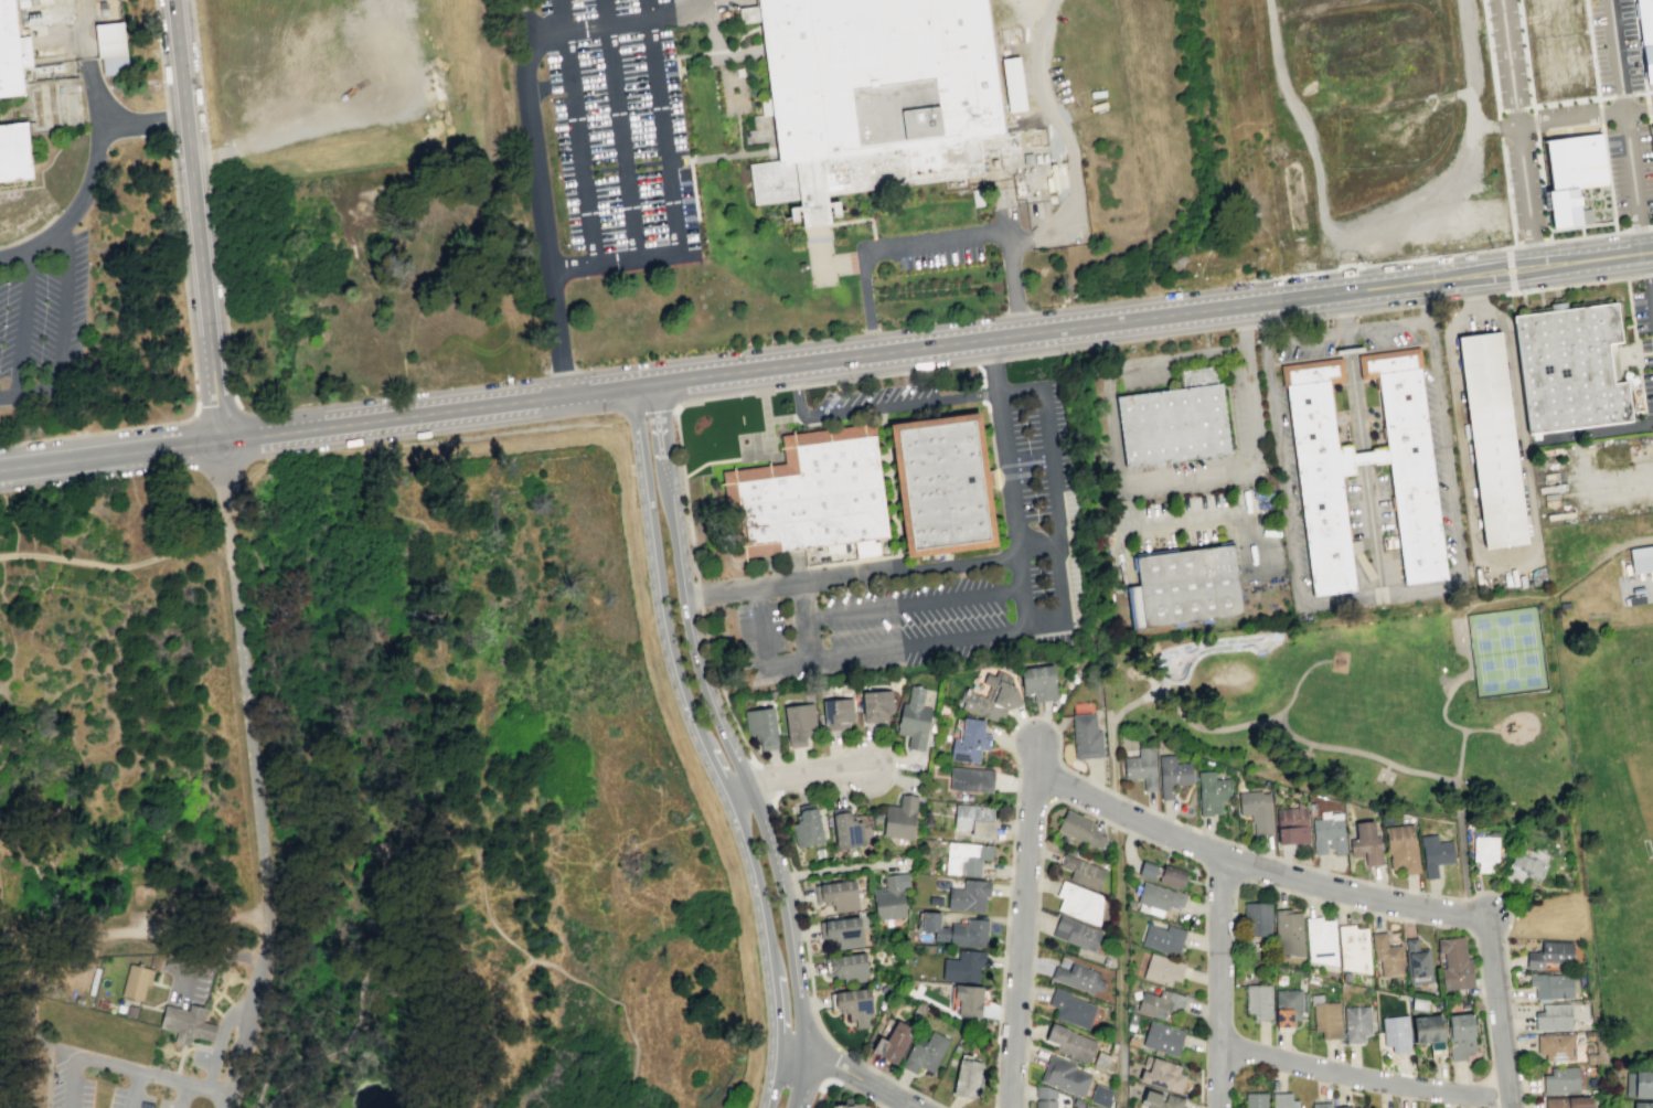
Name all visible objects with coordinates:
road: (704, 4)
road: (648, 9)
road: (602, 12)
road: (616, 23)
road: (84, 32)
building: (1645, 36)
building: (108, 40)
parking lot: (1612, 45)
road: (1639, 45)
building: (9, 51)
parking lot: (1514, 51)
parking lot: (1494, 52)
building: (113, 64)
building: (1012, 84)
road: (1619, 94)
building: (871, 96)
road: (1563, 102)
road: (1513, 108)
road: (1645, 108)
road: (1598, 115)
road: (1568, 117)
road: (1298, 118)
road: (1532, 119)
road: (147, 122)
road: (1496, 122)
road: (1624, 126)
road: (1515, 129)
road: (577, 130)
road: (662, 135)
parking lot: (618, 137)
road: (619, 140)
road: (1068, 141)
building: (1651, 143)
building: (14, 153)
road: (718, 156)
railway: (1444, 160)
road: (1467, 160)
parking lot: (1644, 171)
parking lot: (1510, 175)
building: (1570, 177)
parking lot: (1533, 178)
road: (90, 183)
parking lot: (1615, 187)
road: (543, 198)
road: (213, 200)
road: (860, 221)
road: (199, 223)
road: (936, 247)
parking lot: (939, 247)
road: (1343, 248)
road: (1455, 252)
road: (1628, 254)
road: (637, 255)
road: (1516, 260)
road: (820, 263)
road: (573, 265)
road: (1510, 269)
road: (1649, 270)
road: (1518, 276)
road: (1015, 286)
road: (1569, 286)
road: (1473, 294)
road: (1652, 294)
road: (1472, 299)
road: (866, 305)
road: (188, 307)
road: (65, 308)
road: (1343, 311)
parking lot: (42, 313)
road: (1350, 315)
road: (23, 323)
road: (1430, 324)
road: (1388, 326)
road: (1043, 331)
road: (1305, 337)
road: (1347, 339)
road: (1066, 340)
parking lot: (1644, 341)
road: (1266, 342)
road: (1348, 350)
road: (1174, 356)
road: (994, 365)
building: (1569, 367)
road: (646, 385)
road: (1019, 392)
road: (26, 393)
road: (1355, 399)
road: (215, 402)
road: (676, 408)
road: (874, 408)
road: (648, 413)
road: (428, 415)
road: (615, 422)
building: (1173, 424)
road: (1598, 428)
road: (770, 430)
building: (1491, 439)
road: (414, 443)
road: (662, 449)
road: (1363, 456)
road: (110, 459)
road: (223, 468)
building: (1324, 469)
road: (1186, 472)
parking lot: (1037, 488)
road: (1595, 489)
building: (949, 491)
building: (815, 498)
road: (1013, 510)
road: (1163, 516)
road: (1056, 526)
road: (1372, 531)
building: (1641, 561)
road: (116, 566)
road: (1506, 566)
road: (870, 571)
building: (1185, 587)
road: (1534, 595)
road: (1377, 597)
road: (914, 605)
road: (804, 619)
road: (919, 643)
road: (764, 648)
park: (1510, 650)
park: (1209, 652)
park: (1230, 679)
building: (1038, 681)
road: (1149, 682)
road: (1160, 684)
building: (993, 696)
road: (435, 704)
building: (882, 706)
park: (1369, 712)
building: (843, 715)
road: (1265, 718)
building: (919, 720)
road: (1111, 722)
building: (806, 724)
building: (768, 727)
road: (1484, 728)
road: (742, 735)
building: (1085, 735)
building: (974, 742)
road: (708, 748)
road: (697, 761)
road: (1390, 765)
building: (1148, 769)
road: (1429, 774)
building: (1177, 775)
road: (796, 777)
building: (975, 779)
road: (762, 780)
park: (370, 790)
building: (1216, 793)
road: (254, 795)
road: (754, 808)
building: (1262, 810)
road: (1156, 811)
building: (906, 819)
building: (981, 821)
building: (1297, 827)
building: (814, 828)
building: (853, 829)
road: (1041, 830)
building: (1086, 831)
building: (1334, 833)
building: (1372, 844)
road: (393, 848)
building: (1407, 849)
road: (1464, 849)
building: (1439, 855)
building: (1492, 855)
building: (971, 859)
building: (1536, 863)
road: (1252, 866)
building: (1147, 870)
building: (1084, 871)
road: (1223, 873)
building: (1177, 876)
building: (847, 895)
building: (973, 896)
building: (896, 897)
building: (1163, 897)
road: (1319, 899)
building: (1080, 901)
building: (159, 916)
building: (1262, 919)
road: (1469, 923)
road: (1023, 925)
road: (7, 930)
building: (961, 930)
building: (1075, 933)
building: (851, 934)
building: (1293, 934)
building: (1167, 940)
road: (88, 941)
building: (1326, 941)
road: (1212, 947)
road: (1226, 947)
building: (1359, 949)
road: (209, 950)
building: (1393, 956)
building: (1557, 958)
road: (1121, 960)
building: (1423, 962)
building: (962, 965)
building: (1461, 965)
building: (856, 969)
building: (1167, 970)
building: (1078, 977)
parking lot: (190, 979)
road: (1219, 981)
building: (137, 984)
building: (1556, 987)
road: (358, 995)
building: (968, 1000)
building: (1263, 1002)
road: (265, 1003)
road: (626, 1004)
building: (862, 1005)
building: (1167, 1006)
building: (1070, 1008)
building: (1294, 1009)
road: (1496, 1012)
building: (1558, 1018)
building: (1333, 1020)
building: (1363, 1024)
building: (189, 1025)
road: (415, 1026)
building: (1437, 1029)
building: (1401, 1034)
building: (1468, 1036)
building: (1167, 1038)
building: (1070, 1042)
road: (221, 1043)
building: (903, 1043)
building: (878, 1045)
building: (1560, 1047)
road: (61, 1053)
building: (930, 1053)
road: (271, 1054)
parking lot: (205, 1061)
building: (1100, 1061)
road: (830, 1064)
road: (177, 1065)
road: (26, 1066)
road: (115, 1069)
building: (1166, 1074)
road: (849, 1075)
building: (1065, 1075)
building: (966, 1077)
road: (1364, 1079)
building: (1566, 1080)
road: (844, 1083)
parking lot: (113, 1084)
building: (1649, 1085)
road: (203, 1090)
road: (130, 1091)
building: (1099, 1096)
building: (1044, 1097)
building: (1164, 1100)
building: (1261, 1100)
road: (224, 1101)
building: (1288, 1101)
building: (1575, 1102)
building: (1646, 1105)
building: (850, 1106)
road: (905, 1106)
building: (1327, 1106)
building: (1353, 1107)

